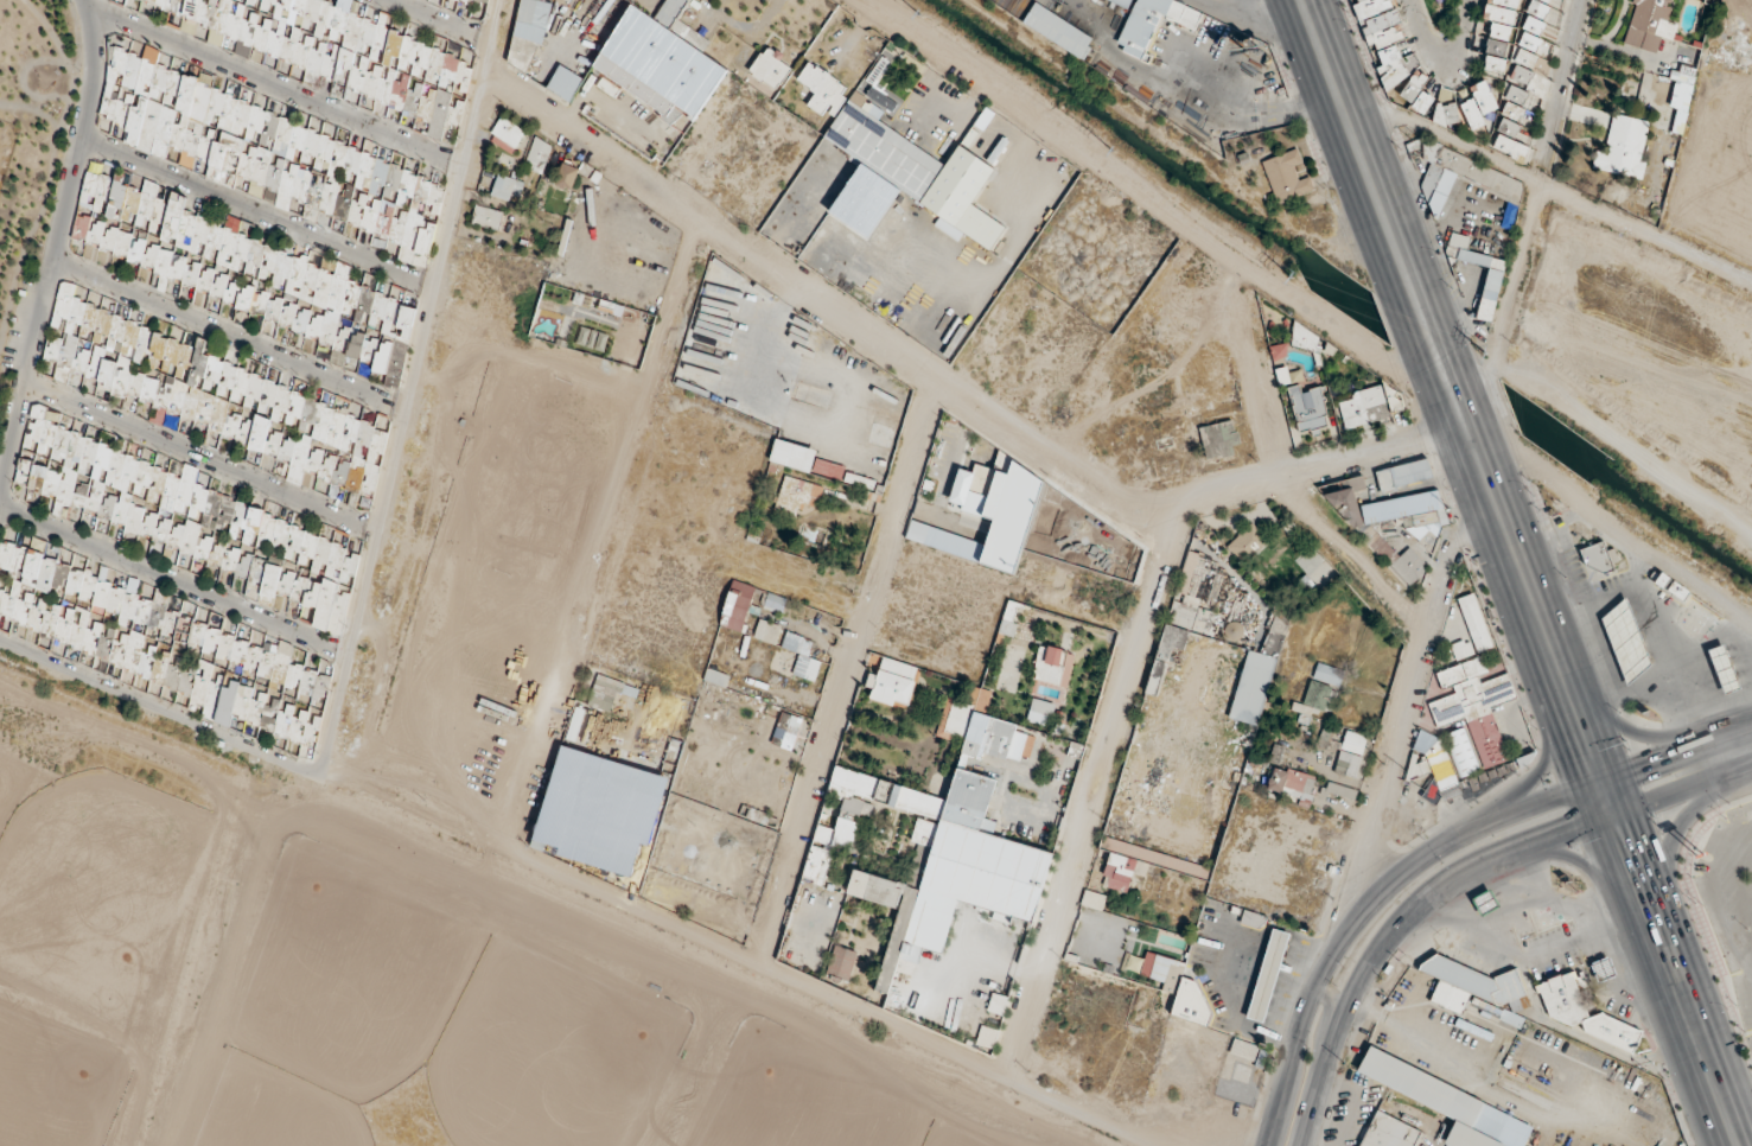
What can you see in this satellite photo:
gas station: (1648, 619)
parking lot: (1728, 887)
gas station: (1268, 974)

